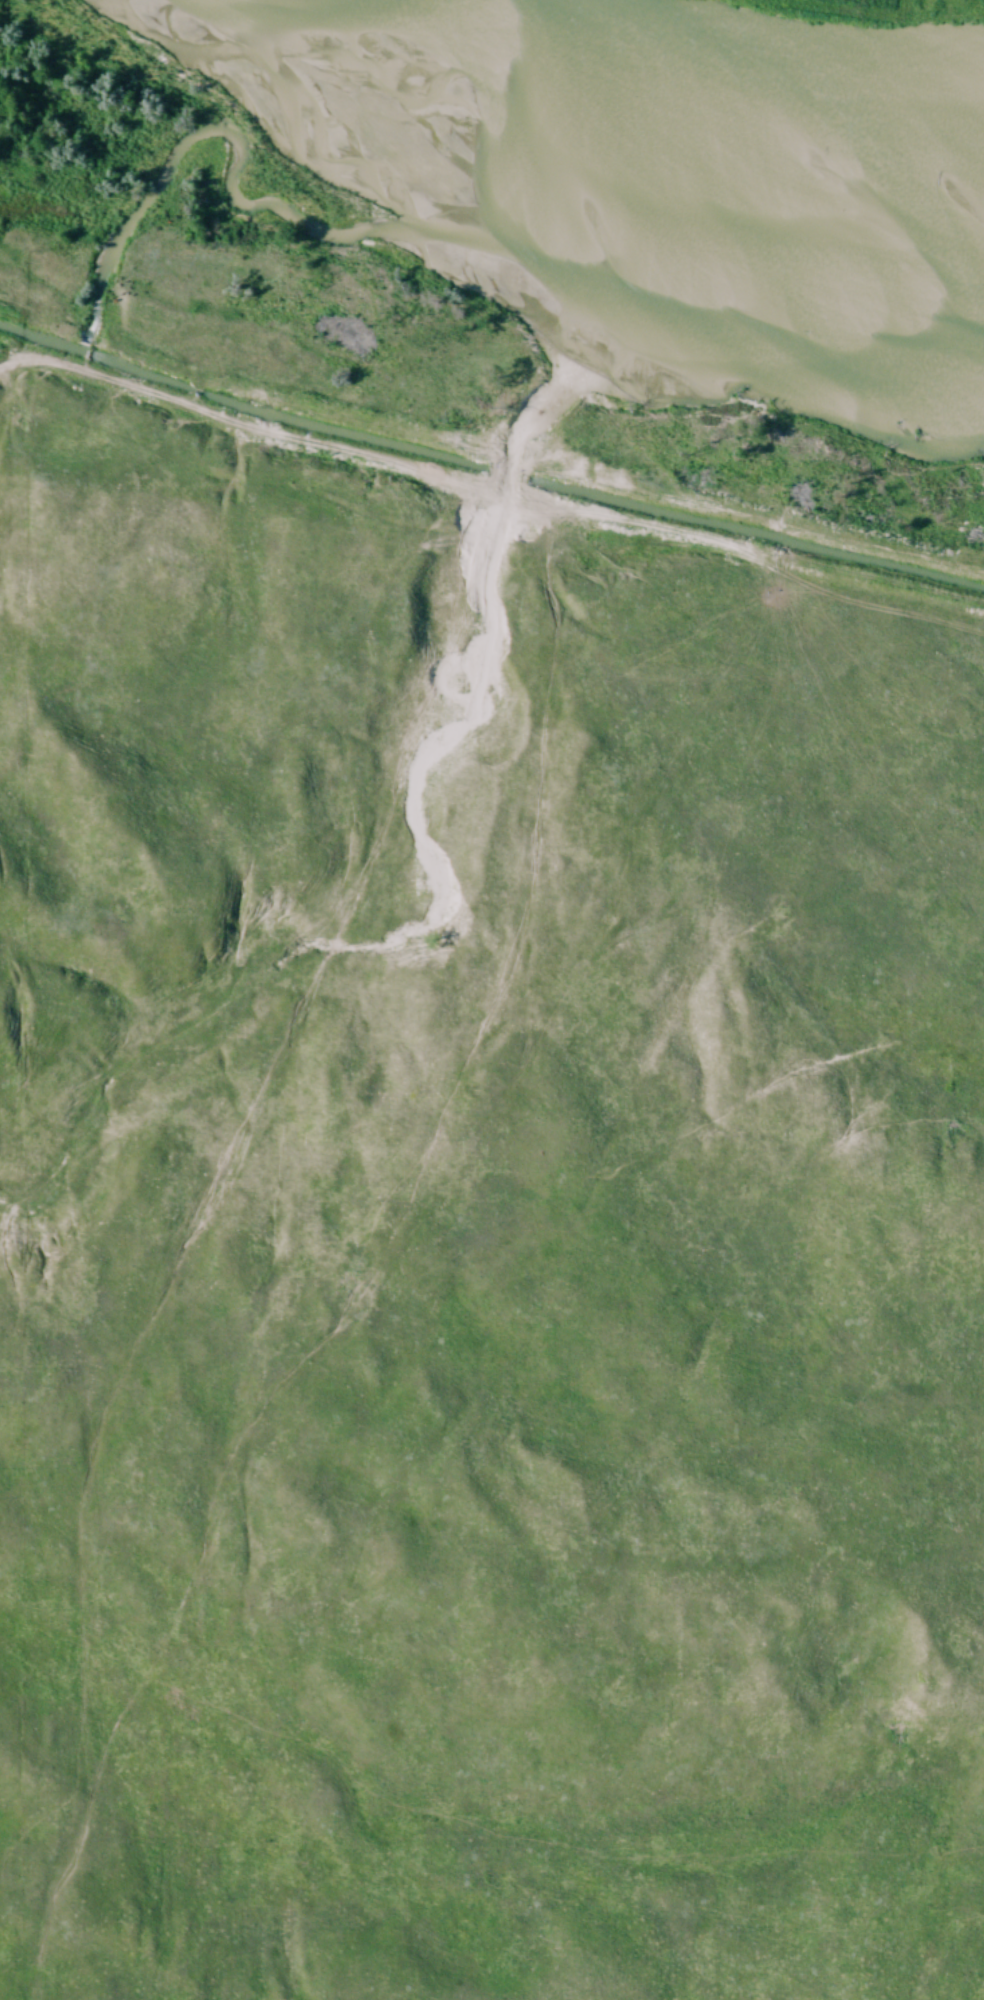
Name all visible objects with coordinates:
river: (682, 160)

